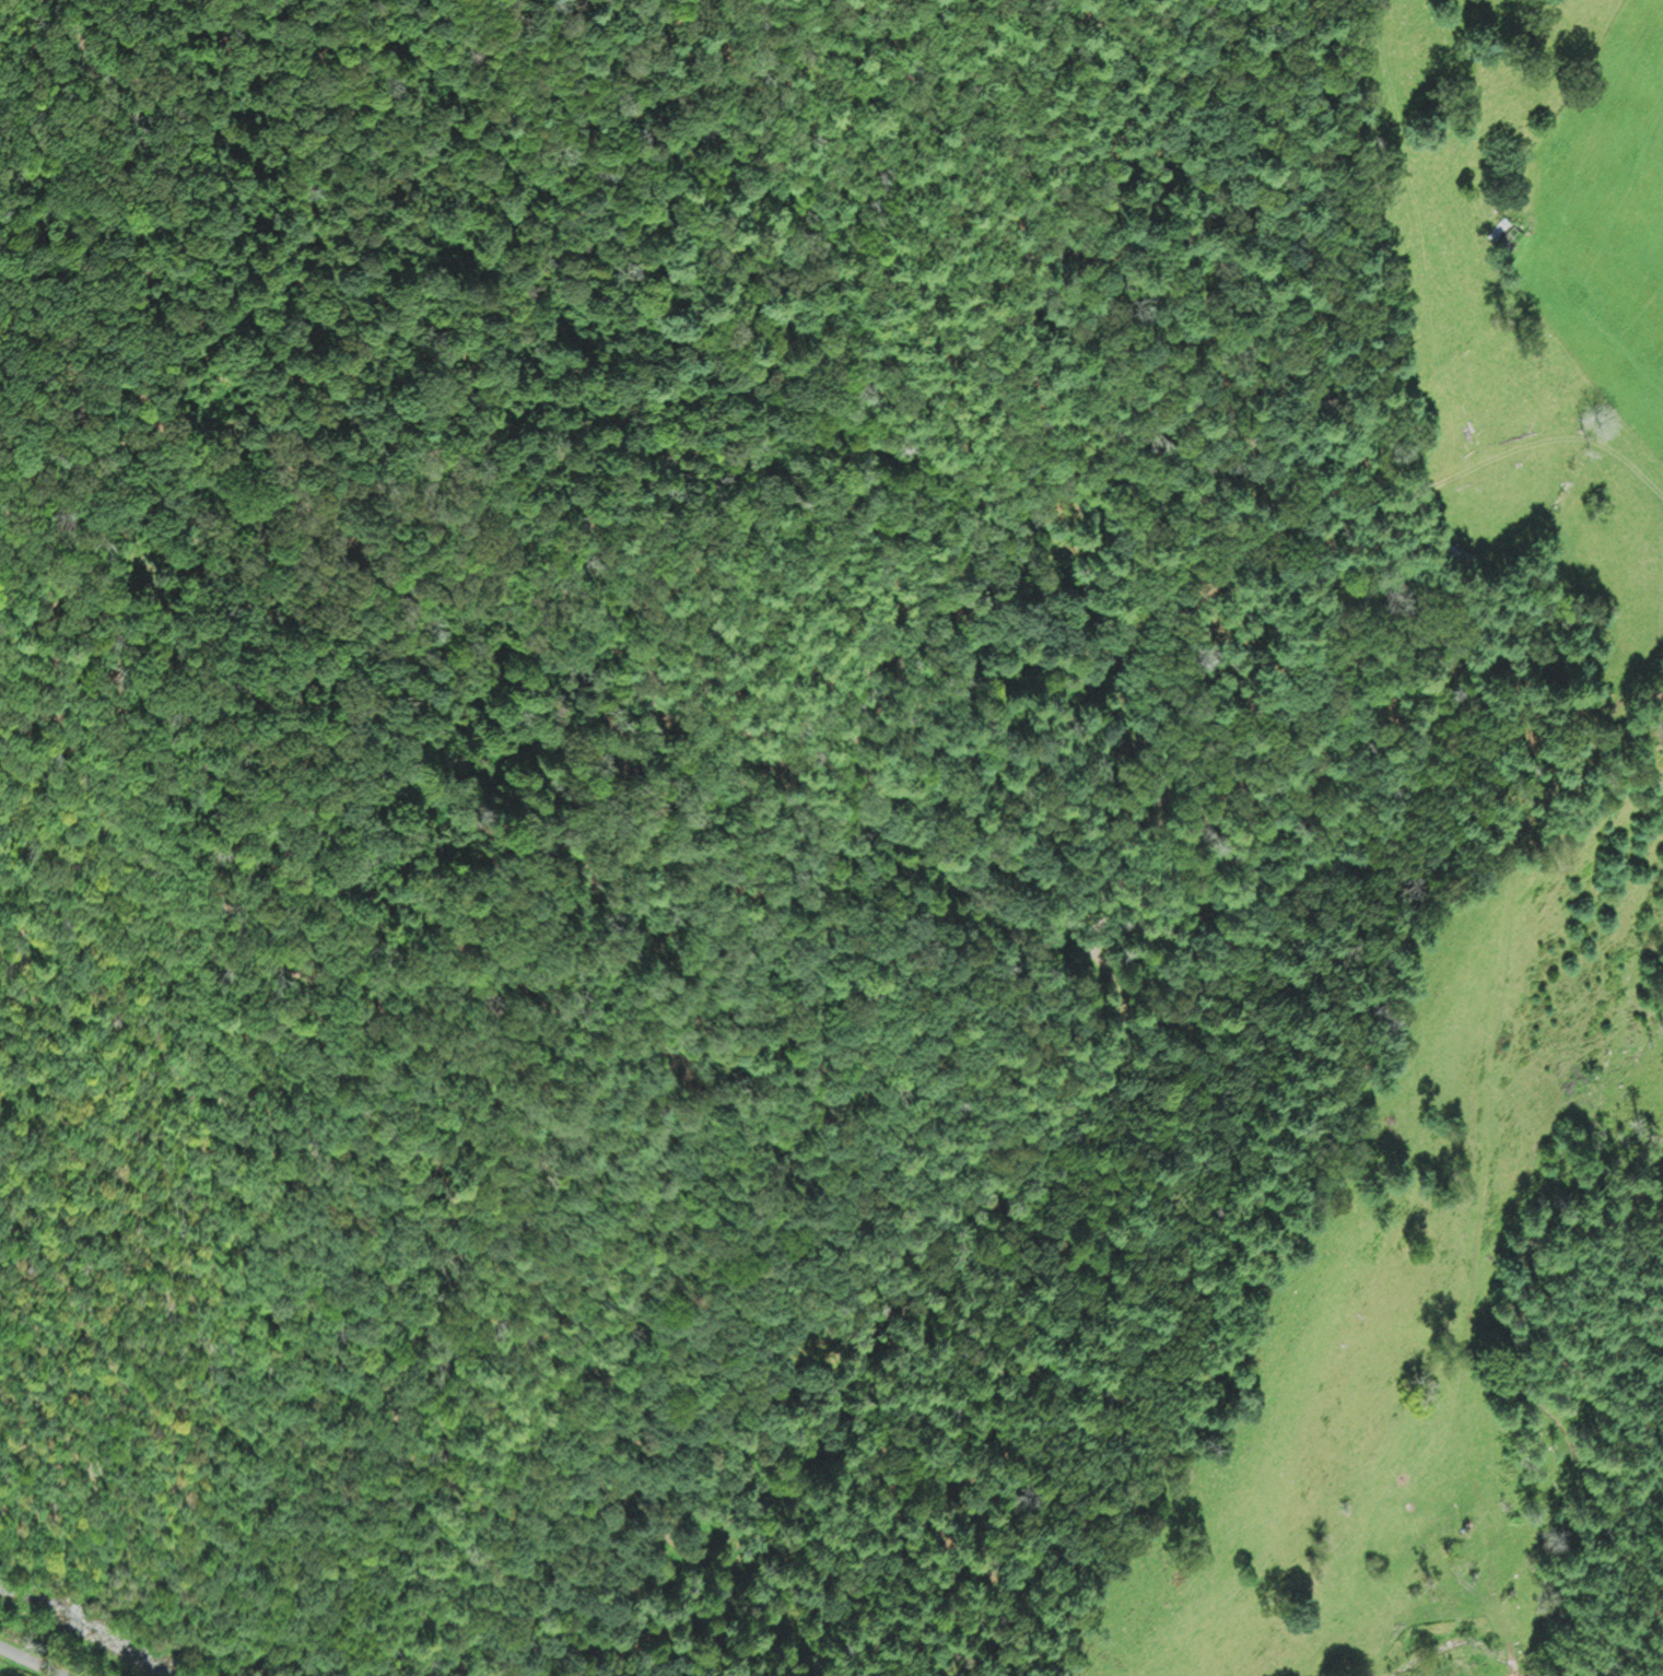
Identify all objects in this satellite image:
road: (32, 1661)

